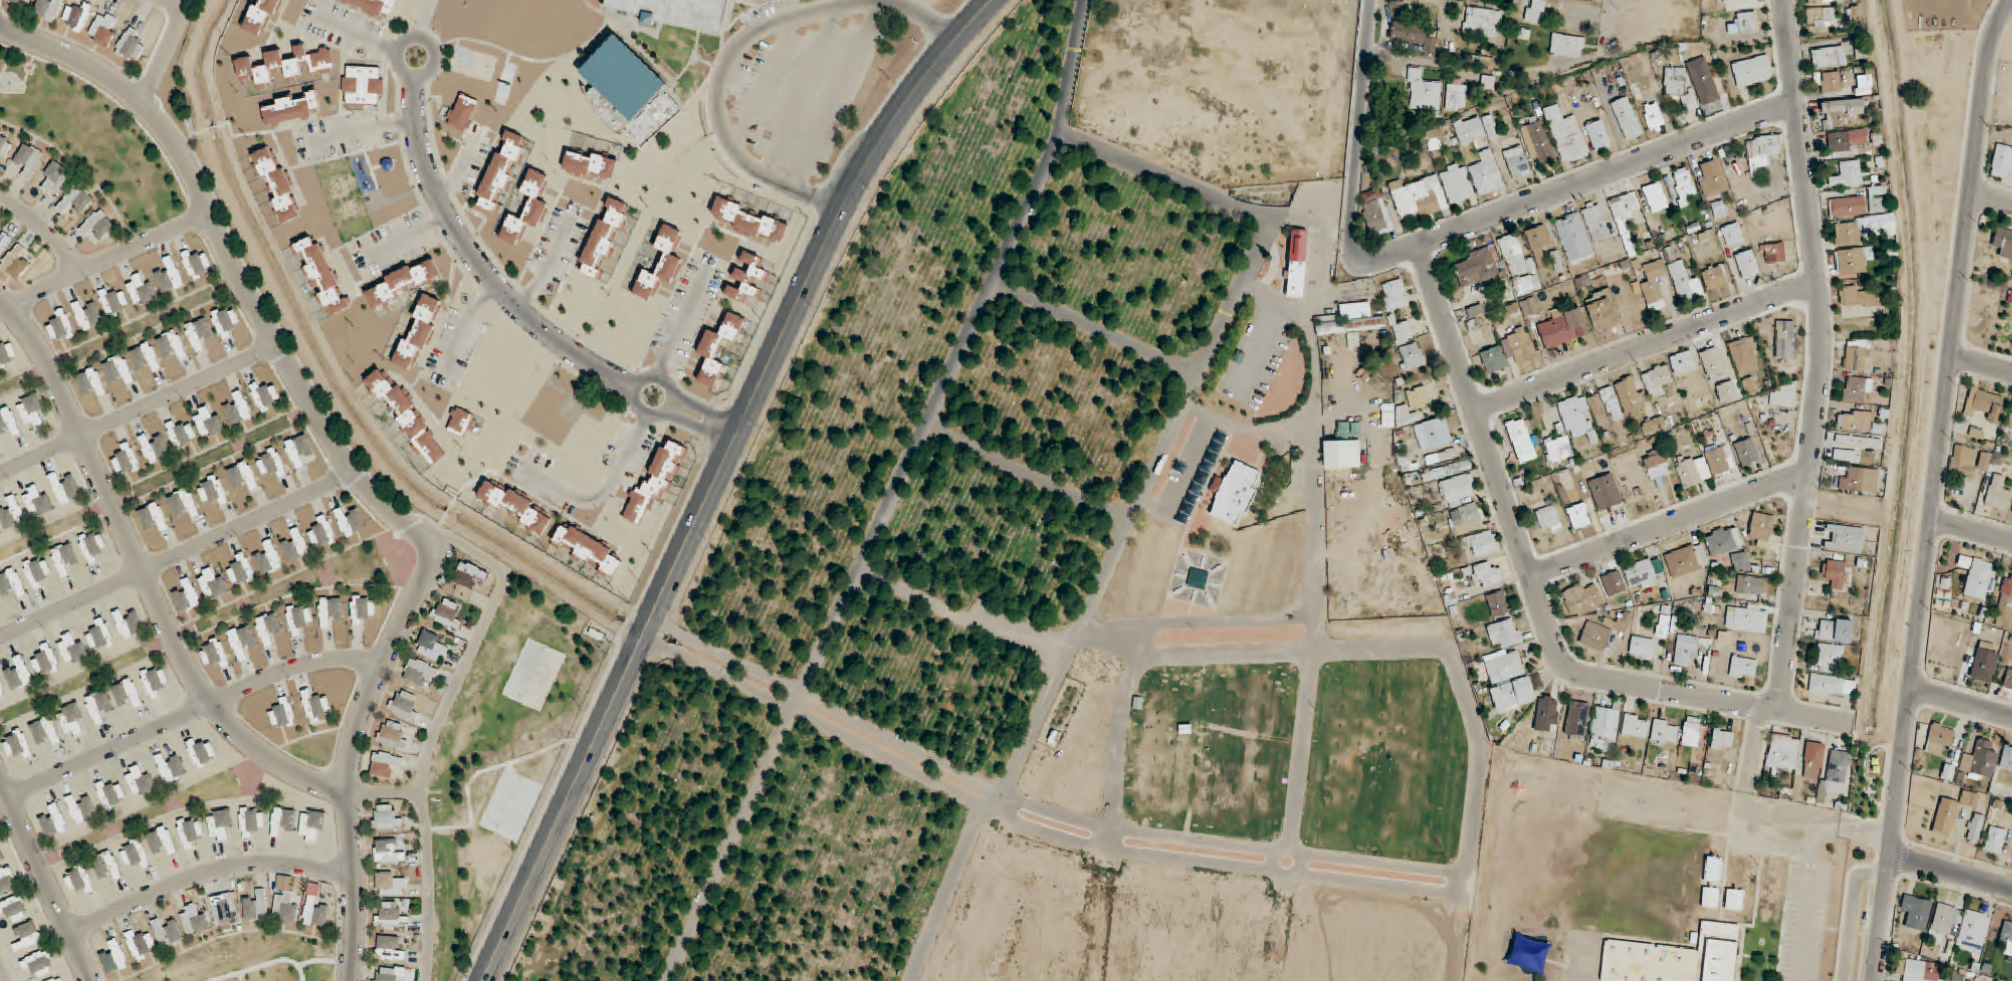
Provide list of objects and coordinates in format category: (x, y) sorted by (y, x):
building: (1589, 0)
building: (1737, 1)
building: (1818, 1)
building: (19, 3)
road: (174, 3)
building: (376, 6)
building: (48, 9)
building: (1535, 11)
building: (678, 13)
building: (78, 16)
building: (263, 17)
building: (1821, 18)
road: (976, 19)
building: (1482, 22)
building: (1746, 22)
road: (1610, 28)
building: (104, 29)
building: (1414, 34)
road: (417, 37)
building: (131, 45)
building: (1568, 45)
road: (739, 47)
road: (162, 49)
building: (1828, 57)
building: (1483, 61)
building: (286, 65)
building: (1752, 71)
building: (1703, 81)
building: (1829, 82)
building: (364, 86)
building: (1678, 86)
building: (1423, 91)
building: (628, 92)
building: (1456, 94)
building: (292, 109)
building: (1841, 112)
building: (462, 113)
building: (1654, 116)
building: (1627, 118)
road: (895, 121)
building: (1475, 129)
road: (1358, 131)
road: (364, 132)
building: (1567, 135)
building: (1599, 135)
building: (1437, 142)
building: (1538, 143)
building: (4, 144)
building: (1763, 150)
building: (29, 160)
building: (1517, 162)
building: (2002, 162)
building: (591, 165)
building: (502, 171)
building: (1486, 172)
building: (1847, 175)
building: (56, 178)
building: (1712, 180)
building: (278, 184)
building: (1455, 184)
building: (1683, 185)
road: (1577, 186)
road: (1993, 195)
building: (1419, 197)
building: (1656, 197)
building: (77, 199)
building: (1848, 206)
building: (528, 208)
building: (1719, 209)
building: (1376, 213)
building: (749, 221)
building: (1596, 222)
building: (98, 224)
road: (43, 230)
building: (1847, 233)
building: (1733, 234)
building: (1574, 238)
building: (604, 239)
building: (3, 241)
building: (2004, 242)
building: (1539, 244)
building: (1775, 253)
building: (1515, 256)
road: (102, 260)
building: (1300, 260)
building: (1853, 260)
building: (17, 262)
road: (231, 263)
building: (662, 263)
building: (196, 264)
road: (480, 264)
building: (1748, 264)
building: (1476, 267)
building: (323, 276)
building: (169, 277)
building: (1717, 277)
building: (749, 279)
building: (1654, 281)
building: (1685, 282)
building: (403, 283)
building: (140, 289)
building: (1394, 295)
building: (1860, 297)
building: (114, 302)
building: (1529, 306)
building: (1602, 310)
building: (88, 315)
building: (1351, 320)
building: (225, 321)
road: (1094, 326)
building: (60, 327)
building: (1563, 327)
building: (419, 332)
building: (1403, 332)
building: (198, 334)
building: (1785, 339)
road: (1954, 343)
building: (171, 345)
road: (1647, 345)
road: (1261, 347)
building: (1518, 347)
building: (719, 348)
building: (7, 354)
building: (1745, 355)
road: (1821, 355)
building: (1411, 356)
building: (145, 357)
building: (1494, 359)
building: (1856, 359)
road: (1982, 360)
building: (1683, 362)
building: (119, 369)
building: (1657, 380)
building: (91, 382)
building: (1751, 386)
building: (1857, 389)
building: (266, 396)
building: (1631, 396)
building: (1783, 396)
building: (1418, 397)
building: (1984, 403)
road: (672, 406)
road: (136, 407)
building: (1591, 408)
building: (238, 409)
building: (32, 411)
road: (709, 411)
building: (1405, 414)
building: (408, 416)
building: (2010, 419)
building: (208, 421)
building: (9, 422)
building: (459, 422)
building: (1859, 422)
building: (1654, 425)
road: (699, 428)
road: (1247, 428)
building: (1433, 433)
building: (181, 434)
building: (1523, 441)
building: (1858, 442)
building: (154, 448)
building: (1558, 449)
building: (300, 451)
building: (1747, 452)
building: (1342, 454)
building: (1441, 456)
building: (1846, 456)
building: (126, 460)
building: (1963, 460)
building: (1988, 460)
building: (1717, 461)
building: (271, 462)
building: (1658, 466)
building: (1446, 470)
road: (1025, 473)
building: (1688, 473)
building: (243, 476)
building: (1860, 480)
building: (655, 482)
road: (1184, 483)
building: (65, 488)
building: (1458, 488)
building: (213, 490)
building: (1235, 493)
building: (1998, 494)
road: (890, 496)
building: (38, 501)
building: (184, 503)
building: (515, 506)
building: (12, 513)
building: (1579, 516)
building: (153, 517)
building: (1548, 518)
building: (1465, 519)
building: (350, 522)
road: (1669, 525)
building: (1761, 526)
road: (1973, 532)
building: (0, 533)
building: (322, 533)
road: (1316, 539)
building: (1845, 539)
building: (1724, 540)
building: (1481, 543)
building: (93, 546)
building: (296, 546)
building: (589, 549)
park: (903, 550)
building: (1437, 552)
road: (174, 554)
building: (64, 559)
building: (269, 559)
building: (1687, 559)
building: (1741, 561)
building: (37, 571)
building: (241, 571)
road: (143, 574)
building: (1641, 574)
building: (1836, 574)
building: (469, 575)
building: (1485, 575)
road: (1100, 579)
building: (1978, 580)
building: (12, 583)
building: (212, 583)
building: (1613, 583)
building: (1752, 585)
road: (665, 596)
road: (1539, 596)
building: (187, 597)
building: (1582, 599)
building: (1498, 604)
building: (2005, 605)
building: (362, 608)
building: (0, 609)
building: (330, 611)
building: (447, 613)
building: (299, 618)
building: (1746, 620)
building: (128, 624)
building: (1663, 625)
building: (269, 627)
building: (1836, 630)
building: (1603, 632)
building: (1505, 634)
building: (100, 636)
building: (242, 642)
building: (432, 645)
building: (1642, 648)
building: (72, 649)
building: (1686, 650)
building: (214, 653)
building: (1830, 657)
building: (46, 660)
building: (1982, 662)
building: (1504, 665)
building: (1743, 668)
building: (419, 672)
building: (19, 674)
building: (2008, 679)
building: (154, 681)
building: (1833, 685)
building: (2, 690)
building: (127, 693)
building: (1513, 694)
building: (403, 703)
road: (1962, 704)
building: (99, 706)
building: (316, 706)
road: (191, 712)
building: (1548, 713)
building: (283, 714)
building: (72, 720)
building: (1636, 726)
building: (1604, 728)
building: (45, 730)
road: (435, 730)
building: (1692, 732)
building: (1665, 733)
building: (392, 735)
building: (1938, 738)
building: (1723, 740)
building: (18, 745)
building: (201, 753)
road: (350, 753)
building: (1783, 753)
building: (2006, 759)
building: (1813, 761)
building: (1980, 761)
building: (385, 764)
building: (171, 768)
road: (487, 769)
building: (1837, 772)
building: (140, 782)
park: (1869, 782)
road: (383, 791)
road: (1745, 793)
building: (112, 794)
building: (81, 809)
building: (1951, 812)
building: (387, 818)
building: (251, 821)
building: (283, 821)
building: (54, 822)
building: (221, 826)
building: (1975, 828)
building: (191, 832)
road: (1895, 835)
building: (162, 840)
building: (1995, 840)
building: (388, 852)
building: (134, 854)
building: (2, 855)
road: (1811, 860)
building: (107, 865)
building: (1773, 866)
building: (1713, 869)
road: (1952, 871)
road: (205, 872)
building: (1737, 874)
road: (46, 877)
building: (7, 880)
building: (80, 880)
building: (391, 885)
road: (946, 886)
building: (1769, 894)
building: (1710, 897)
building: (1735, 900)
building: (286, 906)
building: (256, 907)
building: (15, 908)
building: (226, 910)
building: (1916, 912)
building: (315, 913)
building: (391, 915)
building: (1765, 918)
building: (195, 920)
building: (1944, 920)
building: (1973, 932)
building: (167, 933)
building: (27, 937)
building: (2007, 937)
building: (141, 945)
building: (389, 949)
building: (114, 958)
building: (1676, 958)
building: (39, 964)
building: (1919, 971)
road: (3, 974)
building: (389, 974)
building: (1955, 976)
building: (58, 980)

